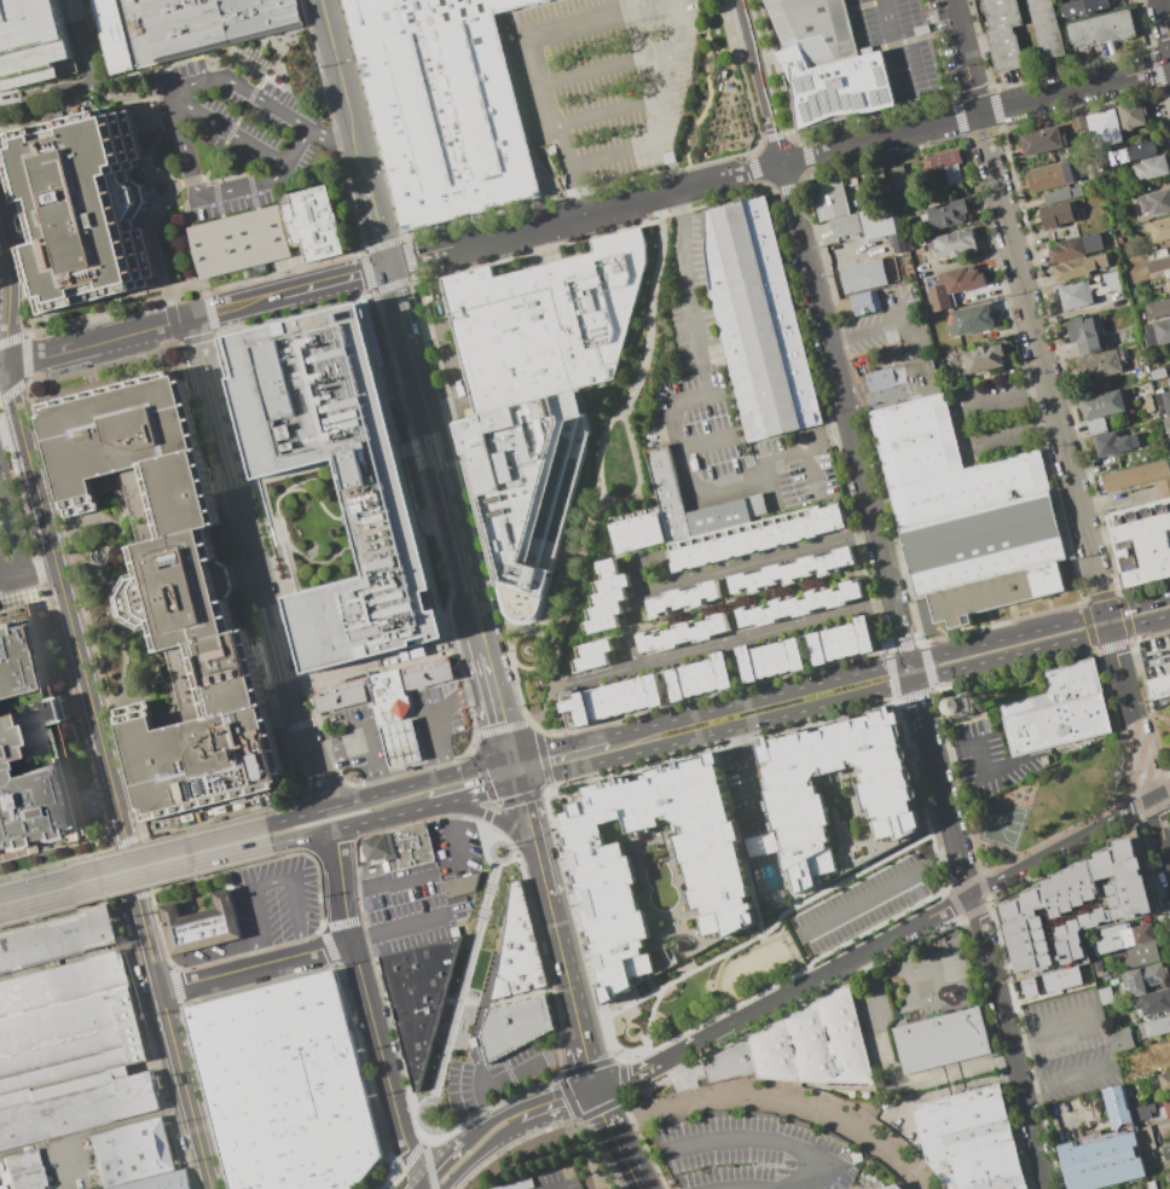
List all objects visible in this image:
road: (610, 7)
building: (1084, 7)
road: (601, 17)
road: (1165, 17)
building: (183, 27)
building: (1046, 29)
building: (1101, 29)
road: (703, 33)
building: (1003, 33)
building: (29, 40)
parking lot: (29, 40)
road: (83, 41)
parking lot: (899, 45)
building: (824, 63)
road: (606, 65)
road: (894, 65)
road: (673, 76)
road: (759, 81)
road: (533, 82)
road: (347, 88)
road: (44, 89)
park: (713, 95)
road: (129, 97)
building: (445, 105)
road: (606, 112)
road: (974, 114)
building: (1131, 114)
road: (700, 116)
building: (1079, 122)
building: (1105, 128)
road: (230, 130)
road: (330, 132)
parking lot: (232, 135)
road: (184, 140)
building: (1041, 140)
building: (1130, 153)
road: (587, 162)
building: (945, 163)
building: (1151, 167)
building: (1050, 175)
building: (937, 176)
building: (898, 179)
road: (717, 180)
fountain: (163, 191)
building: (1056, 196)
building: (830, 199)
building: (1155, 202)
building: (79, 208)
building: (946, 214)
building: (1056, 214)
street lamp: (650, 219)
road: (380, 220)
building: (312, 224)
building: (853, 224)
building: (899, 224)
road: (522, 230)
building: (1159, 230)
building: (237, 242)
building: (954, 243)
street lamp: (654, 246)
building: (1075, 248)
traffic signals: (390, 263)
building: (1158, 265)
building: (1078, 267)
building: (864, 274)
road: (683, 278)
street lamp: (647, 280)
building: (1169, 283)
building: (954, 285)
building: (1089, 290)
road: (8, 296)
road: (400, 302)
building: (865, 302)
road: (649, 307)
building: (1158, 308)
road: (197, 313)
street lamp: (643, 318)
building: (971, 319)
building: (757, 321)
building: (545, 323)
road: (884, 325)
building: (1087, 332)
building: (1158, 332)
street lamp: (639, 355)
building: (984, 358)
road: (24, 359)
road: (2, 362)
building: (1101, 364)
road: (2, 366)
road: (699, 369)
building: (1013, 371)
building: (1158, 373)
road: (701, 376)
building: (908, 378)
road: (702, 384)
building: (1096, 388)
street lamp: (627, 390)
building: (1163, 402)
building: (1148, 404)
building: (1102, 405)
road: (622, 419)
street lamp: (606, 422)
building: (1096, 425)
road: (956, 427)
building: (1168, 428)
road: (1059, 431)
road: (2, 435)
road: (10, 436)
road: (703, 440)
building: (1114, 442)
road: (800, 446)
street lamp: (596, 453)
building: (1169, 456)
building: (943, 465)
building: (1140, 476)
road: (445, 483)
street lamp: (597, 483)
road: (693, 483)
building: (334, 487)
building: (525, 488)
building: (668, 495)
road: (1114, 498)
road: (19, 500)
road: (11, 523)
building: (637, 529)
road: (874, 529)
building: (754, 536)
building: (1141, 541)
building: (981, 543)
road: (581, 551)
street lamp: (580, 552)
fountain: (95, 555)
road: (253, 563)
road: (41, 572)
road: (718, 572)
building: (792, 572)
road: (37, 573)
road: (13, 580)
street lamp: (568, 586)
building: (169, 592)
building: (995, 593)
road: (21, 594)
building: (606, 598)
building: (684, 598)
building: (799, 604)
street lamp: (555, 610)
road: (82, 611)
traffic signals: (1105, 614)
road: (549, 616)
traffic signals: (1110, 628)
road: (529, 630)
building: (683, 634)
building: (840, 640)
road: (730, 642)
road: (483, 643)
road: (497, 645)
road: (1143, 654)
building: (591, 655)
building: (770, 657)
road: (550, 663)
road: (887, 667)
road: (556, 668)
building: (427, 675)
building: (699, 677)
building: (1158, 688)
road: (516, 692)
building: (364, 697)
road: (844, 697)
building: (612, 698)
water tower: (956, 706)
building: (956, 707)
road: (499, 710)
building: (1058, 710)
road: (75, 719)
road: (502, 726)
park: (1164, 735)
road: (473, 742)
building: (31, 748)
road: (558, 748)
road: (983, 758)
traffic signals: (512, 759)
road: (515, 770)
road: (481, 776)
road: (741, 776)
road: (106, 777)
road: (423, 782)
traffic signals: (519, 782)
road: (545, 787)
road: (483, 790)
building: (839, 795)
road: (295, 804)
road: (439, 804)
park: (1048, 804)
road: (488, 806)
road: (299, 816)
road: (381, 817)
road: (485, 817)
road: (497, 818)
road: (487, 834)
road: (300, 836)
road: (452, 836)
road: (1168, 840)
road: (532, 841)
road: (1070, 842)
road: (129, 843)
building: (758, 845)
building: (398, 848)
road: (490, 852)
road: (509, 852)
road: (502, 858)
street lamp: (487, 866)
road: (133, 868)
road: (262, 870)
building: (653, 870)
building: (457, 886)
road: (875, 892)
road: (439, 895)
road: (134, 897)
building: (1038, 905)
street lamp: (474, 920)
road: (774, 923)
building: (201, 924)
road: (160, 927)
building: (56, 936)
building: (1117, 938)
building: (517, 950)
road: (218, 953)
building: (1142, 955)
road: (175, 961)
building: (1097, 967)
road: (256, 968)
road: (564, 971)
road: (174, 978)
building: (1083, 978)
building: (1145, 978)
road: (463, 979)
street lamp: (457, 980)
park: (705, 987)
building: (1039, 988)
park: (471, 992)
road: (782, 993)
building: (1106, 996)
building: (417, 997)
road: (139, 1002)
building: (1153, 1002)
road: (369, 1009)
building: (65, 1023)
building: (512, 1027)
building: (1154, 1027)
road: (1054, 1033)
building: (1122, 1039)
road: (1009, 1040)
building: (942, 1043)
building: (803, 1046)
street lamp: (434, 1066)
road: (589, 1066)
road: (1067, 1079)
road: (893, 1080)
road: (497, 1081)
building: (1164, 1083)
building: (289, 1086)
road: (937, 1091)
road: (554, 1098)
street lamp: (417, 1100)
road: (778, 1101)
road: (423, 1102)
road: (406, 1104)
building: (77, 1106)
building: (1117, 1106)
building: (1166, 1107)
building: (1142, 1112)
road: (419, 1120)
road: (99, 1127)
road: (434, 1130)
road: (424, 1135)
road: (448, 1136)
road: (616, 1138)
road: (764, 1138)
building: (1146, 1138)
road: (462, 1141)
building: (974, 1141)
road: (423, 1148)
road: (480, 1152)
building: (132, 1153)
building: (1166, 1153)
parking lot: (752, 1154)
building: (1101, 1160)
building: (1169, 1171)
building: (23, 1173)
road: (390, 1178)
building: (158, 1182)
parking lot: (544, 1182)
building: (1151, 1184)
building: (898, 1188)

